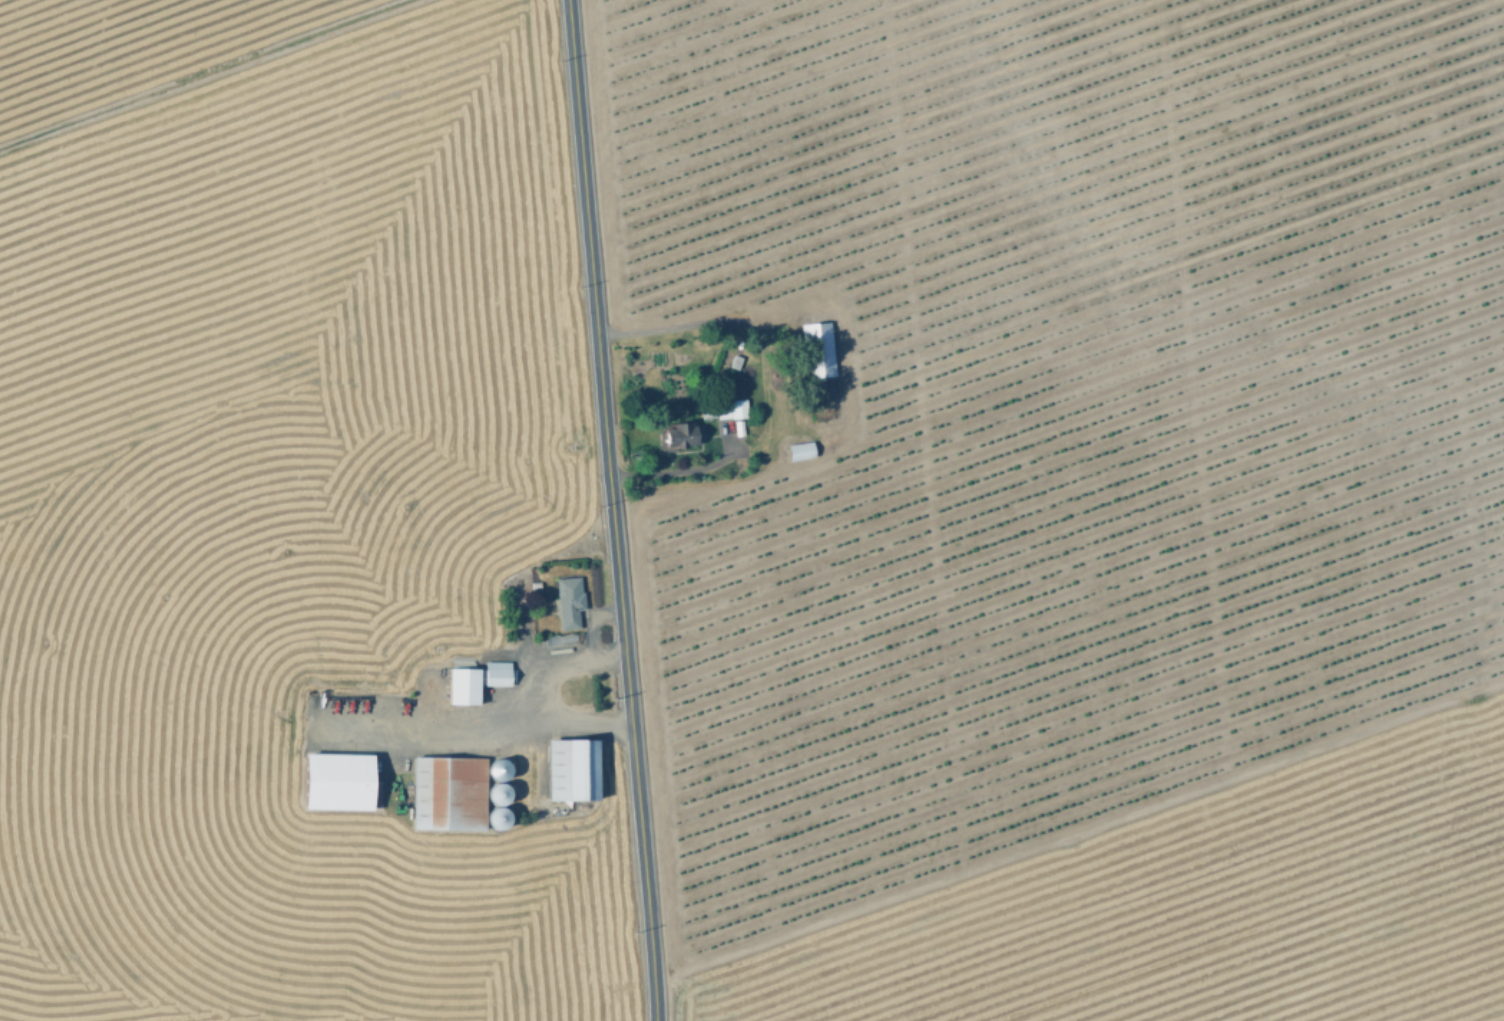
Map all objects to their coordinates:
building: (816, 349)
building: (733, 360)
building: (724, 409)
building: (674, 435)
building: (799, 450)
crop: (274, 499)
road: (612, 510)
building: (534, 585)
building: (567, 601)
road: (557, 667)
building: (494, 674)
building: (458, 686)
road: (540, 725)
building: (495, 768)
silo: (495, 768)
building: (566, 770)
building: (337, 782)
building: (444, 793)
building: (493, 794)
silo: (493, 794)
building: (493, 819)
silo: (493, 819)
crop: (1181, 903)

